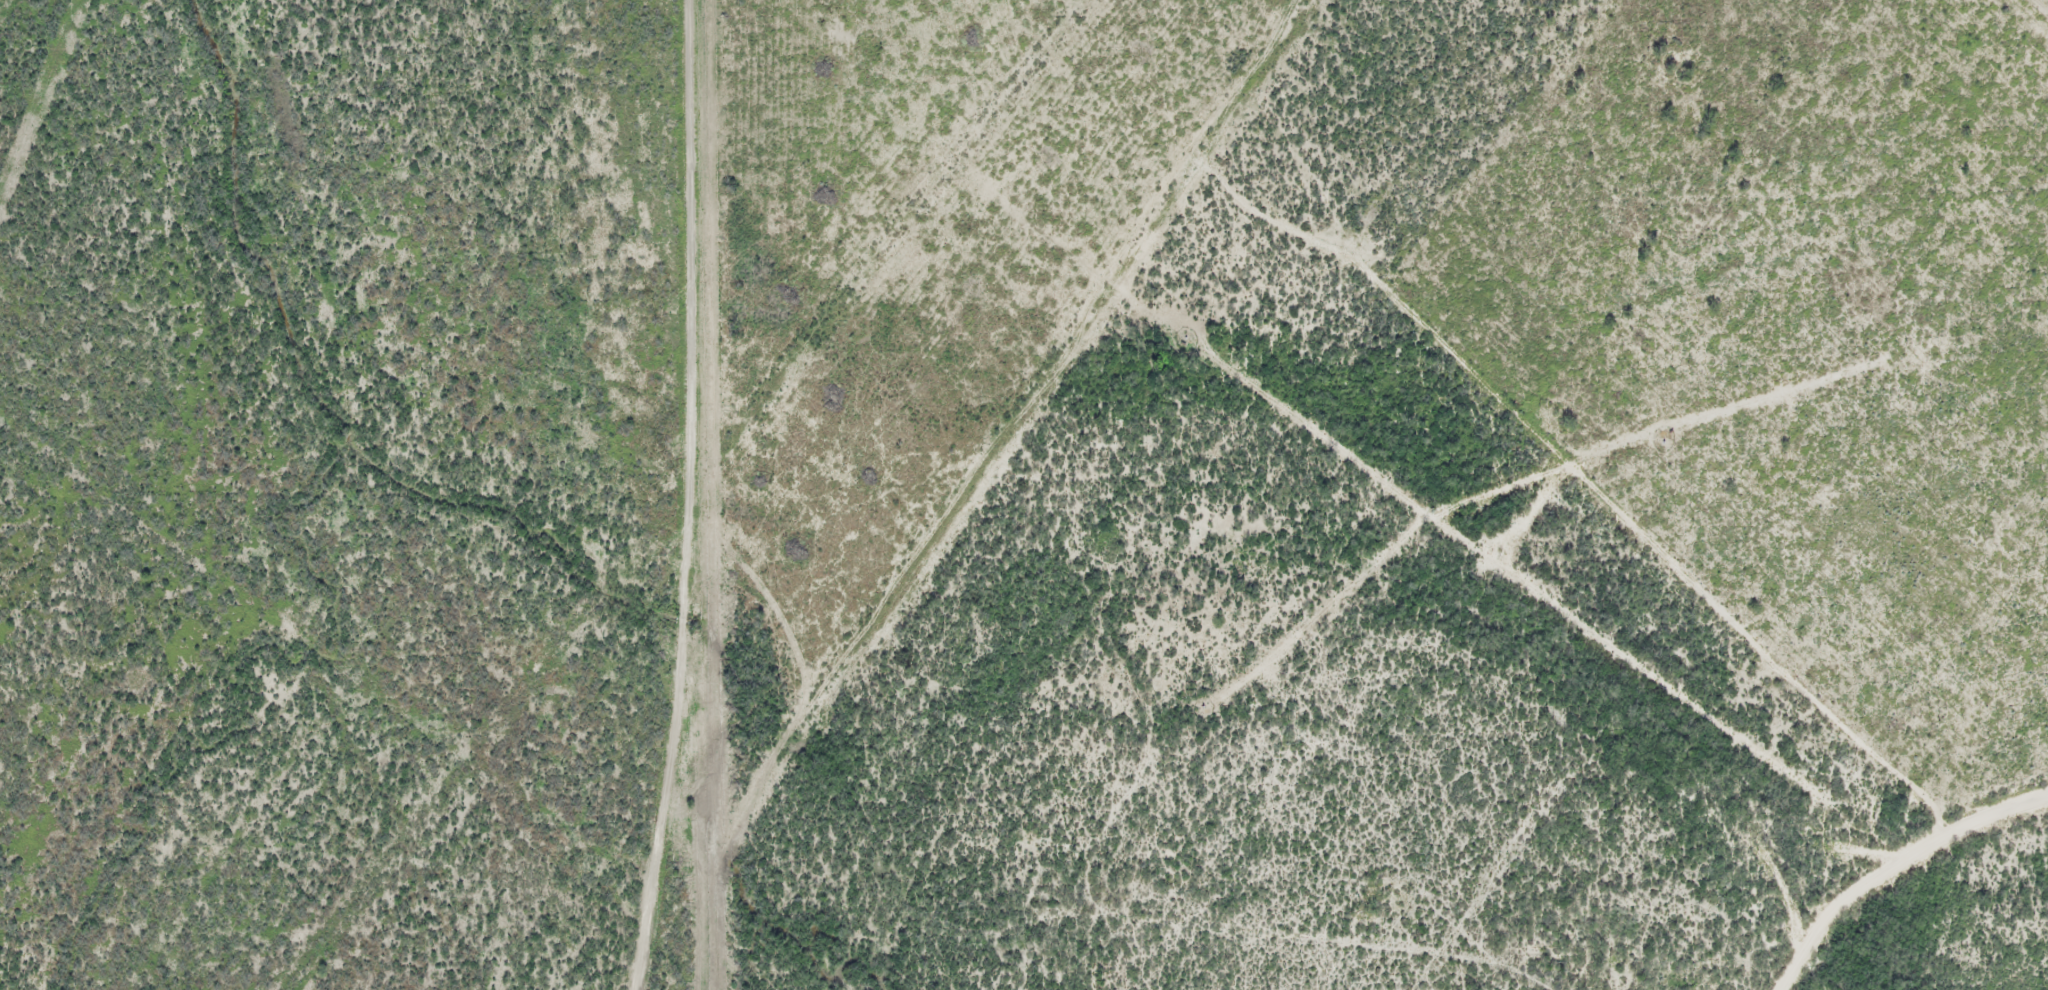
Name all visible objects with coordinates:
road: (1891, 864)

